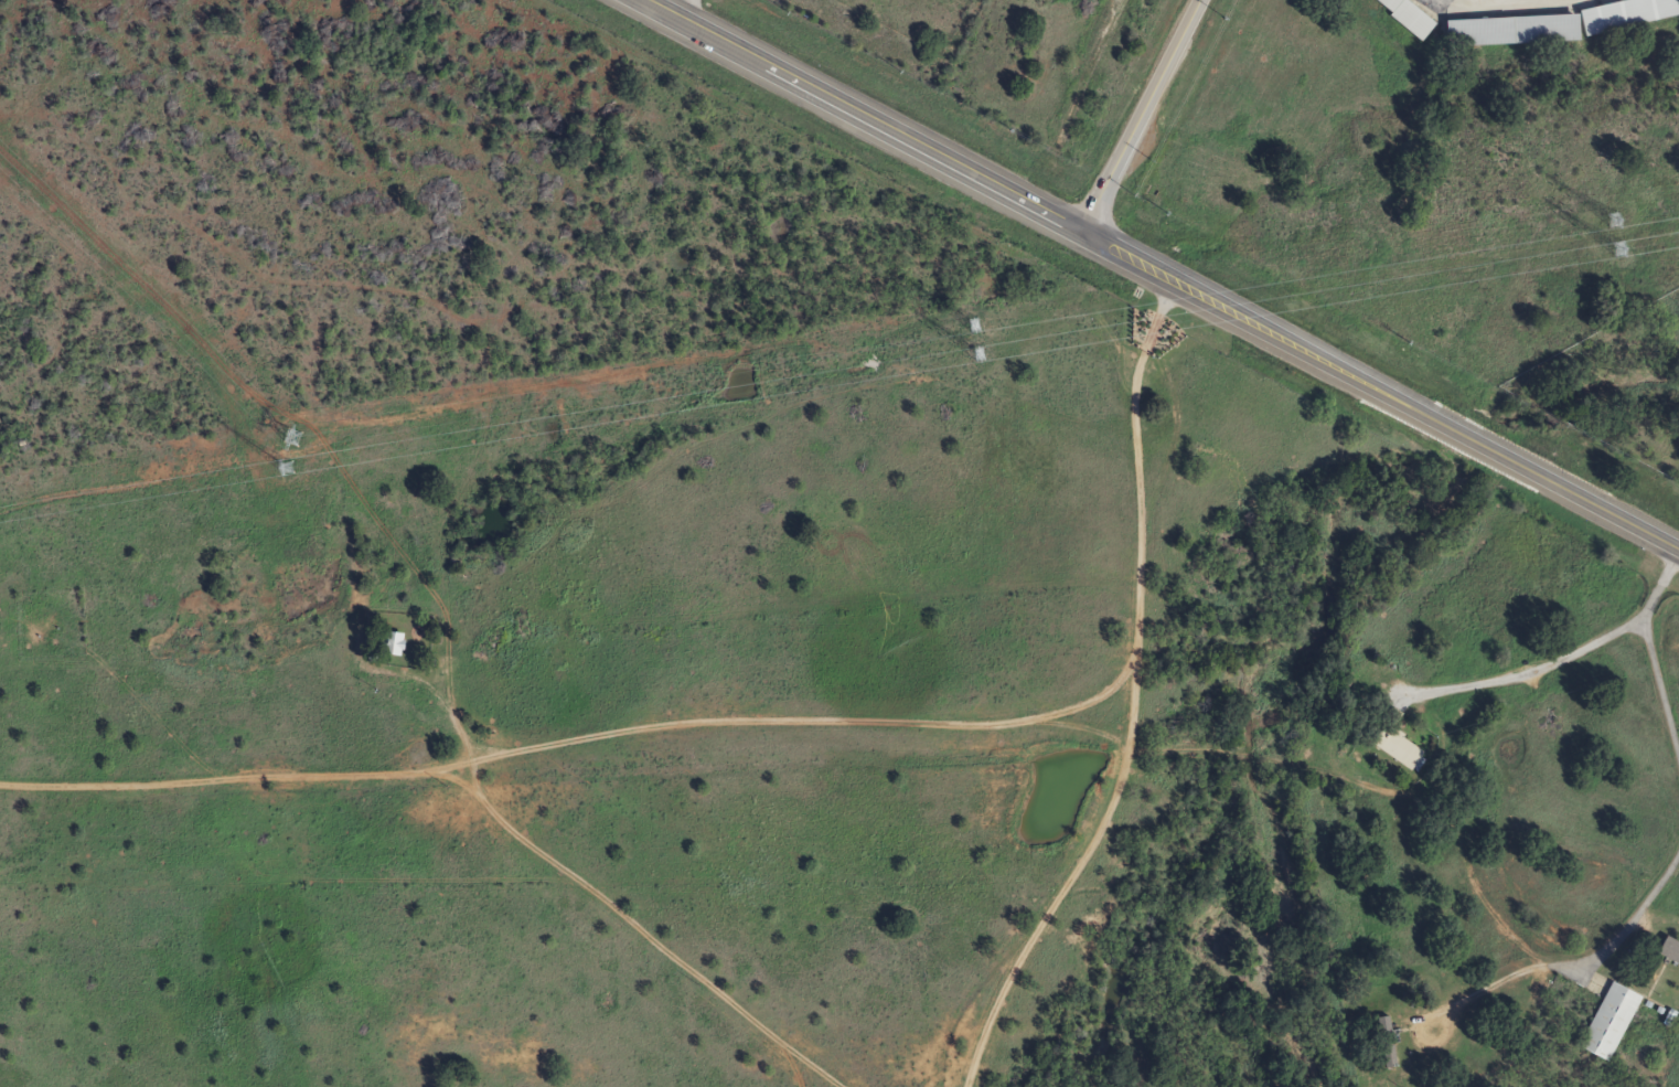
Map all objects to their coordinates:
building: (1624, 14)
building: (1403, 17)
building: (1507, 31)
road: (1137, 117)
power tower: (1610, 219)
power tower: (1605, 253)
road: (1155, 275)
power tower: (972, 323)
power tower: (969, 359)
power tower: (291, 437)
power tower: (232, 479)
road: (1678, 551)
road: (1650, 658)
road: (1526, 669)
road: (1131, 700)
road: (821, 723)
building: (1394, 747)
road: (1627, 923)
building: (1667, 950)
building: (1605, 1022)
building: (1384, 1041)

